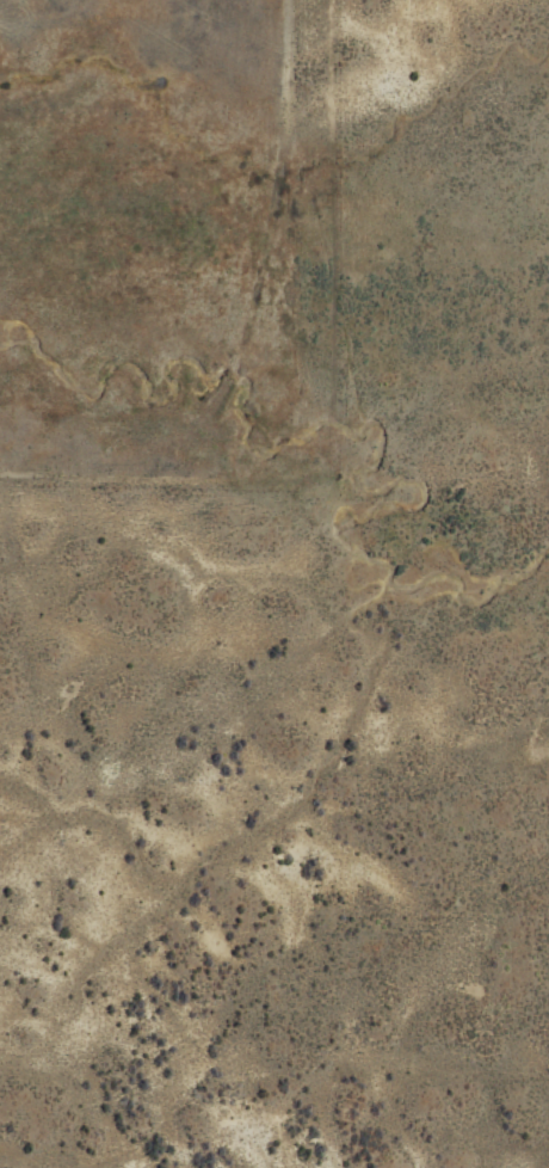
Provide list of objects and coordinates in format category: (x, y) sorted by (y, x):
crop: (274, 584)

